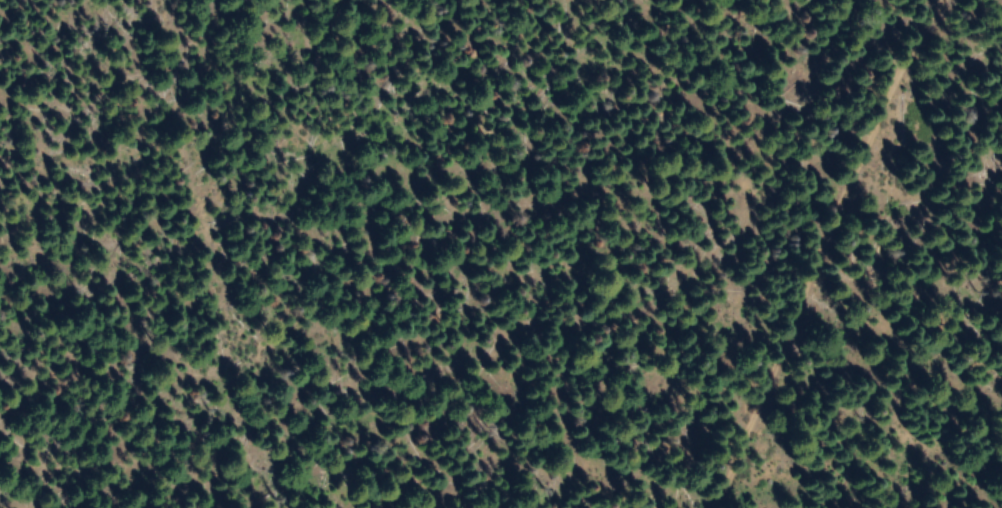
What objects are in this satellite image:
road: (820, 309)

